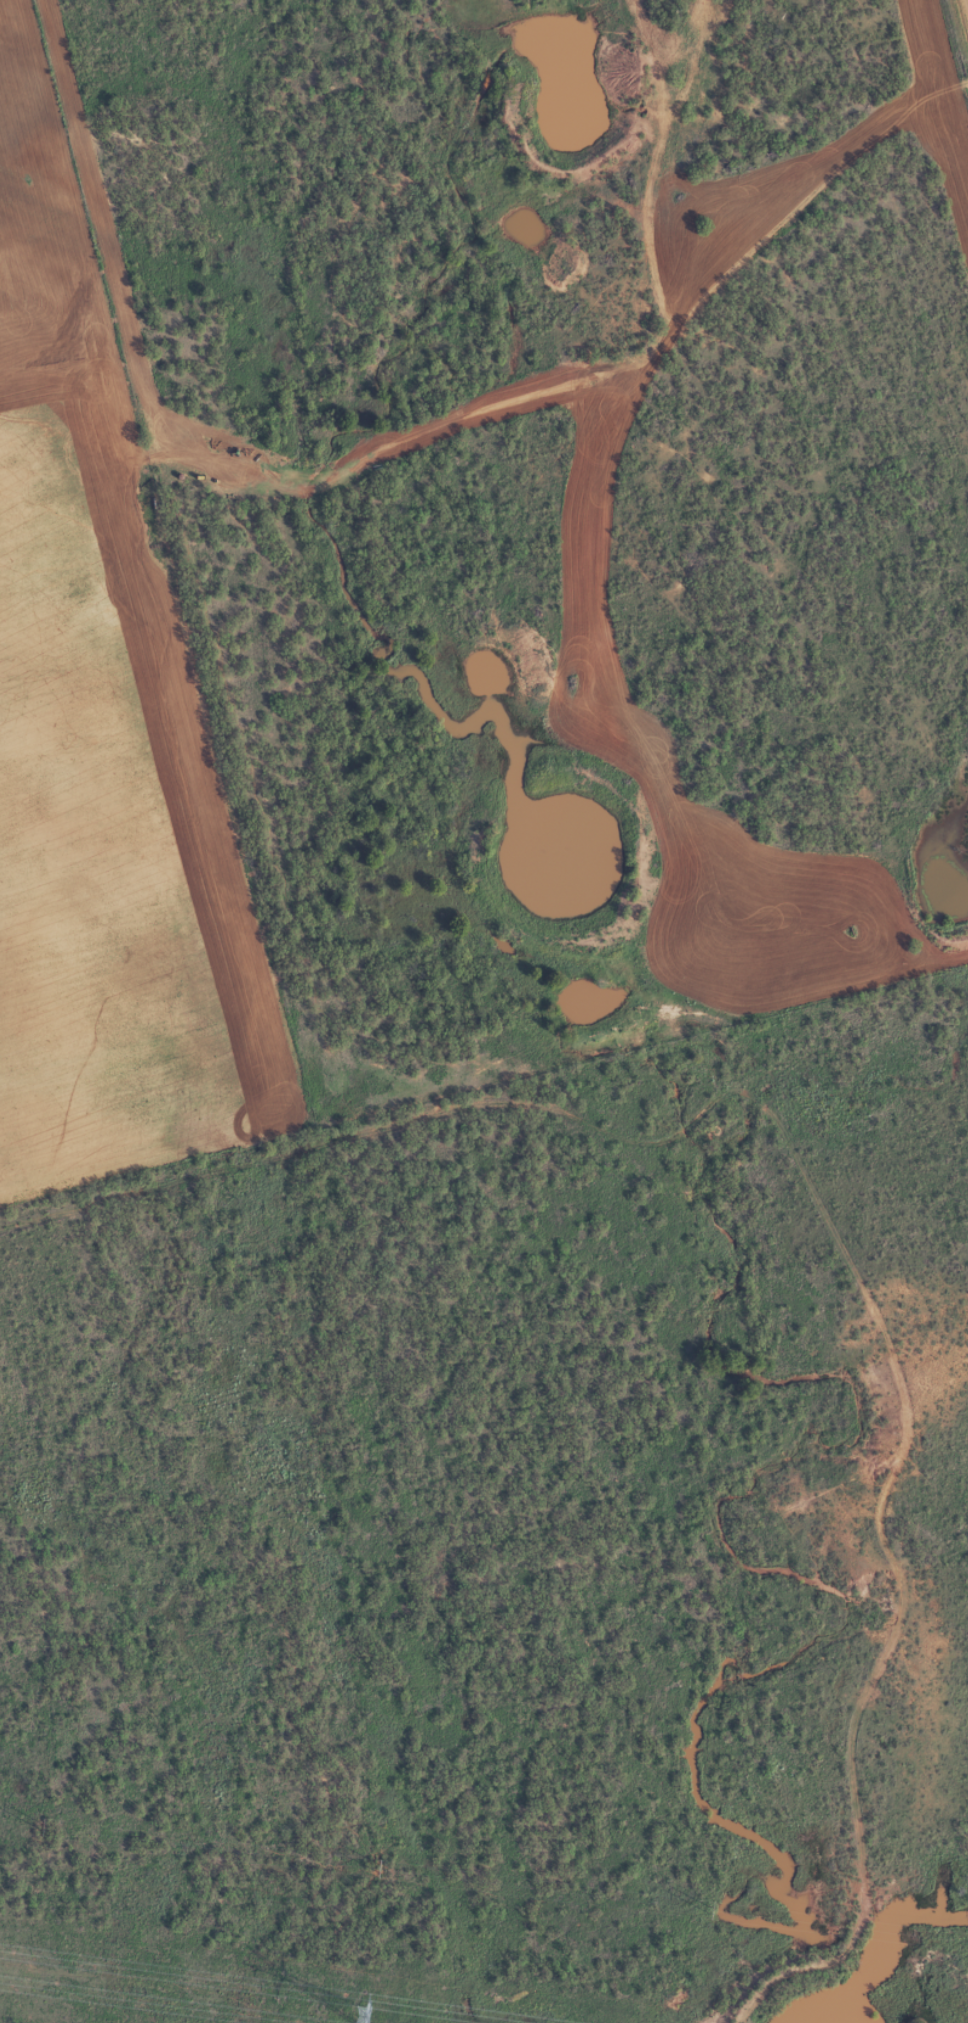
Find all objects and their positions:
road: (964, 13)
road: (594, 354)
power tower: (41, 1827)
power tower: (376, 1869)
power tower: (705, 1910)
power tower: (355, 2013)

